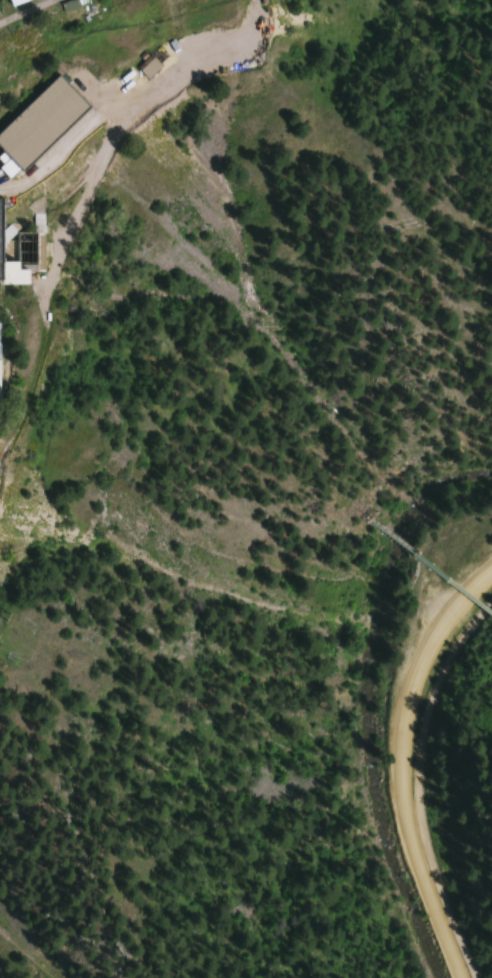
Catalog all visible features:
building: (9, 2)
road: (18, 9)
building: (140, 68)
building: (25, 98)
building: (36, 123)
road: (47, 124)
building: (4, 259)
road: (409, 775)
road: (417, 784)

